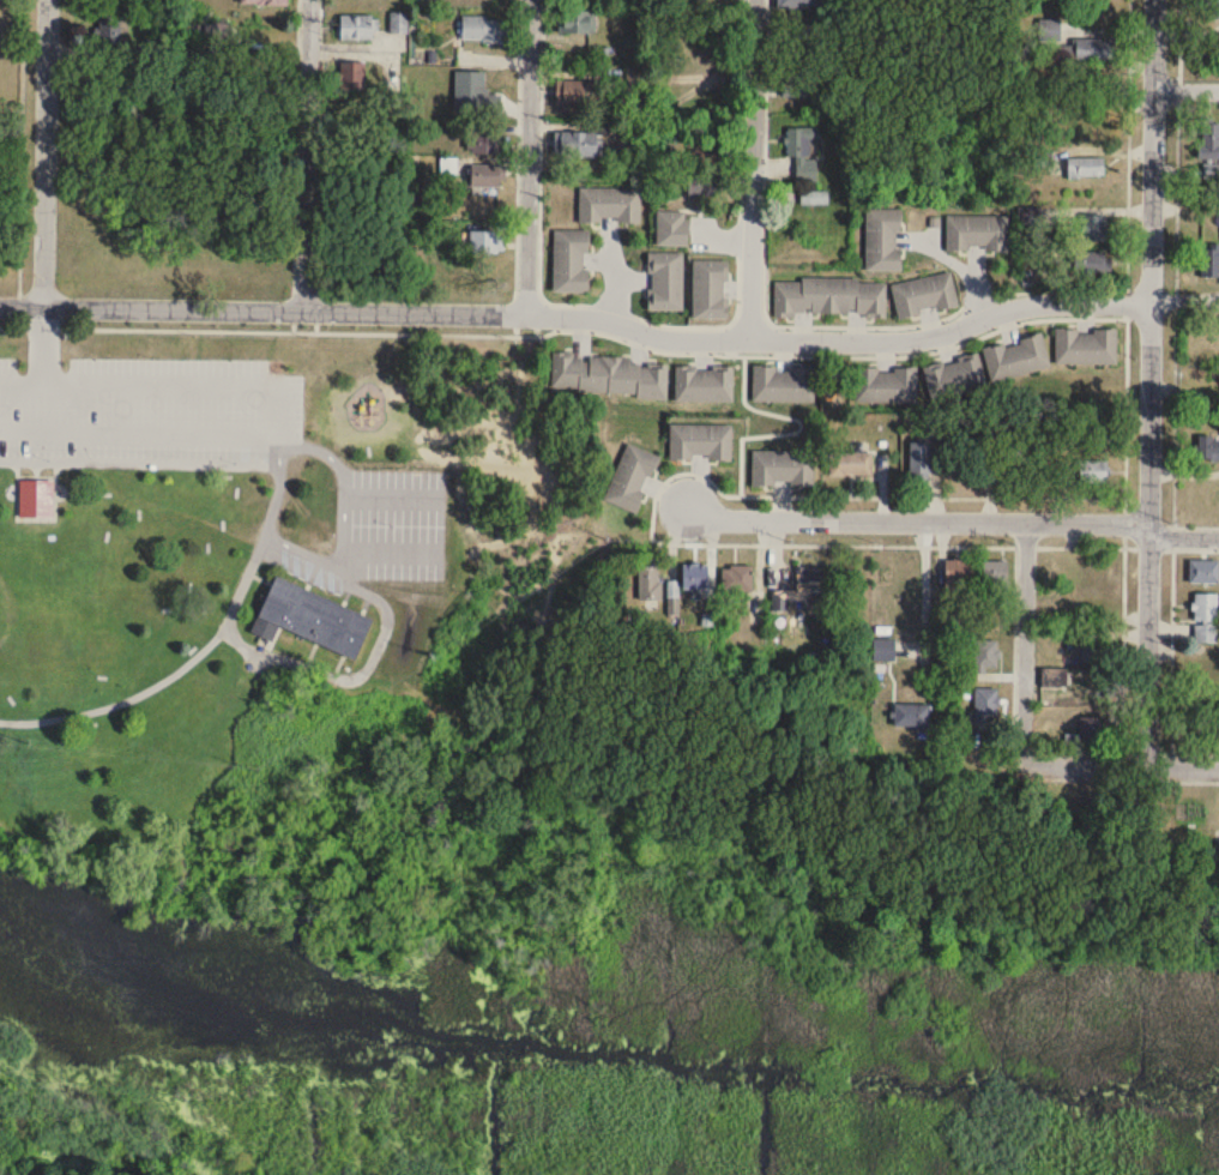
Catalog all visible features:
building: (262, 2)
building: (795, 5)
building: (1213, 8)
building: (577, 22)
building: (398, 23)
building: (356, 28)
building: (484, 29)
building: (1092, 48)
building: (351, 76)
building: (795, 84)
road: (1185, 89)
building: (470, 92)
building: (573, 92)
building: (1208, 140)
building: (485, 143)
building: (577, 144)
road: (44, 152)
building: (803, 152)
road: (307, 155)
road: (527, 157)
building: (447, 167)
building: (1085, 167)
road: (753, 169)
building: (1211, 171)
building: (487, 175)
building: (815, 198)
building: (610, 204)
building: (1093, 228)
building: (671, 229)
building: (977, 234)
building: (883, 240)
building: (483, 243)
road: (1126, 248)
building: (571, 260)
building: (1094, 261)
building: (1209, 263)
road: (1175, 273)
building: (665, 281)
building: (710, 289)
building: (924, 295)
building: (829, 297)
road: (262, 309)
road: (262, 331)
road: (874, 339)
building: (1086, 345)
building: (1014, 355)
building: (953, 374)
building: (610, 375)
building: (704, 382)
building: (883, 382)
road: (1148, 382)
building: (784, 384)
parking lot: (151, 416)
building: (700, 440)
building: (1208, 446)
building: (919, 460)
building: (1012, 462)
building: (850, 463)
building: (783, 468)
building: (1093, 470)
building: (1062, 472)
building: (632, 477)
road: (340, 489)
building: (36, 499)
road: (912, 519)
park: (372, 522)
road: (265, 536)
road: (1182, 537)
road: (1117, 546)
building: (995, 571)
building: (1203, 571)
park: (240, 573)
building: (955, 574)
building: (695, 576)
building: (1093, 576)
building: (740, 577)
building: (648, 579)
road: (924, 584)
building: (799, 587)
building: (310, 616)
building: (1205, 617)
road: (1171, 626)
road: (1122, 647)
building: (883, 650)
building: (1094, 650)
building: (986, 655)
building: (1096, 688)
road: (1024, 699)
building: (986, 704)
building: (911, 716)
building: (1094, 728)
road: (1182, 765)

